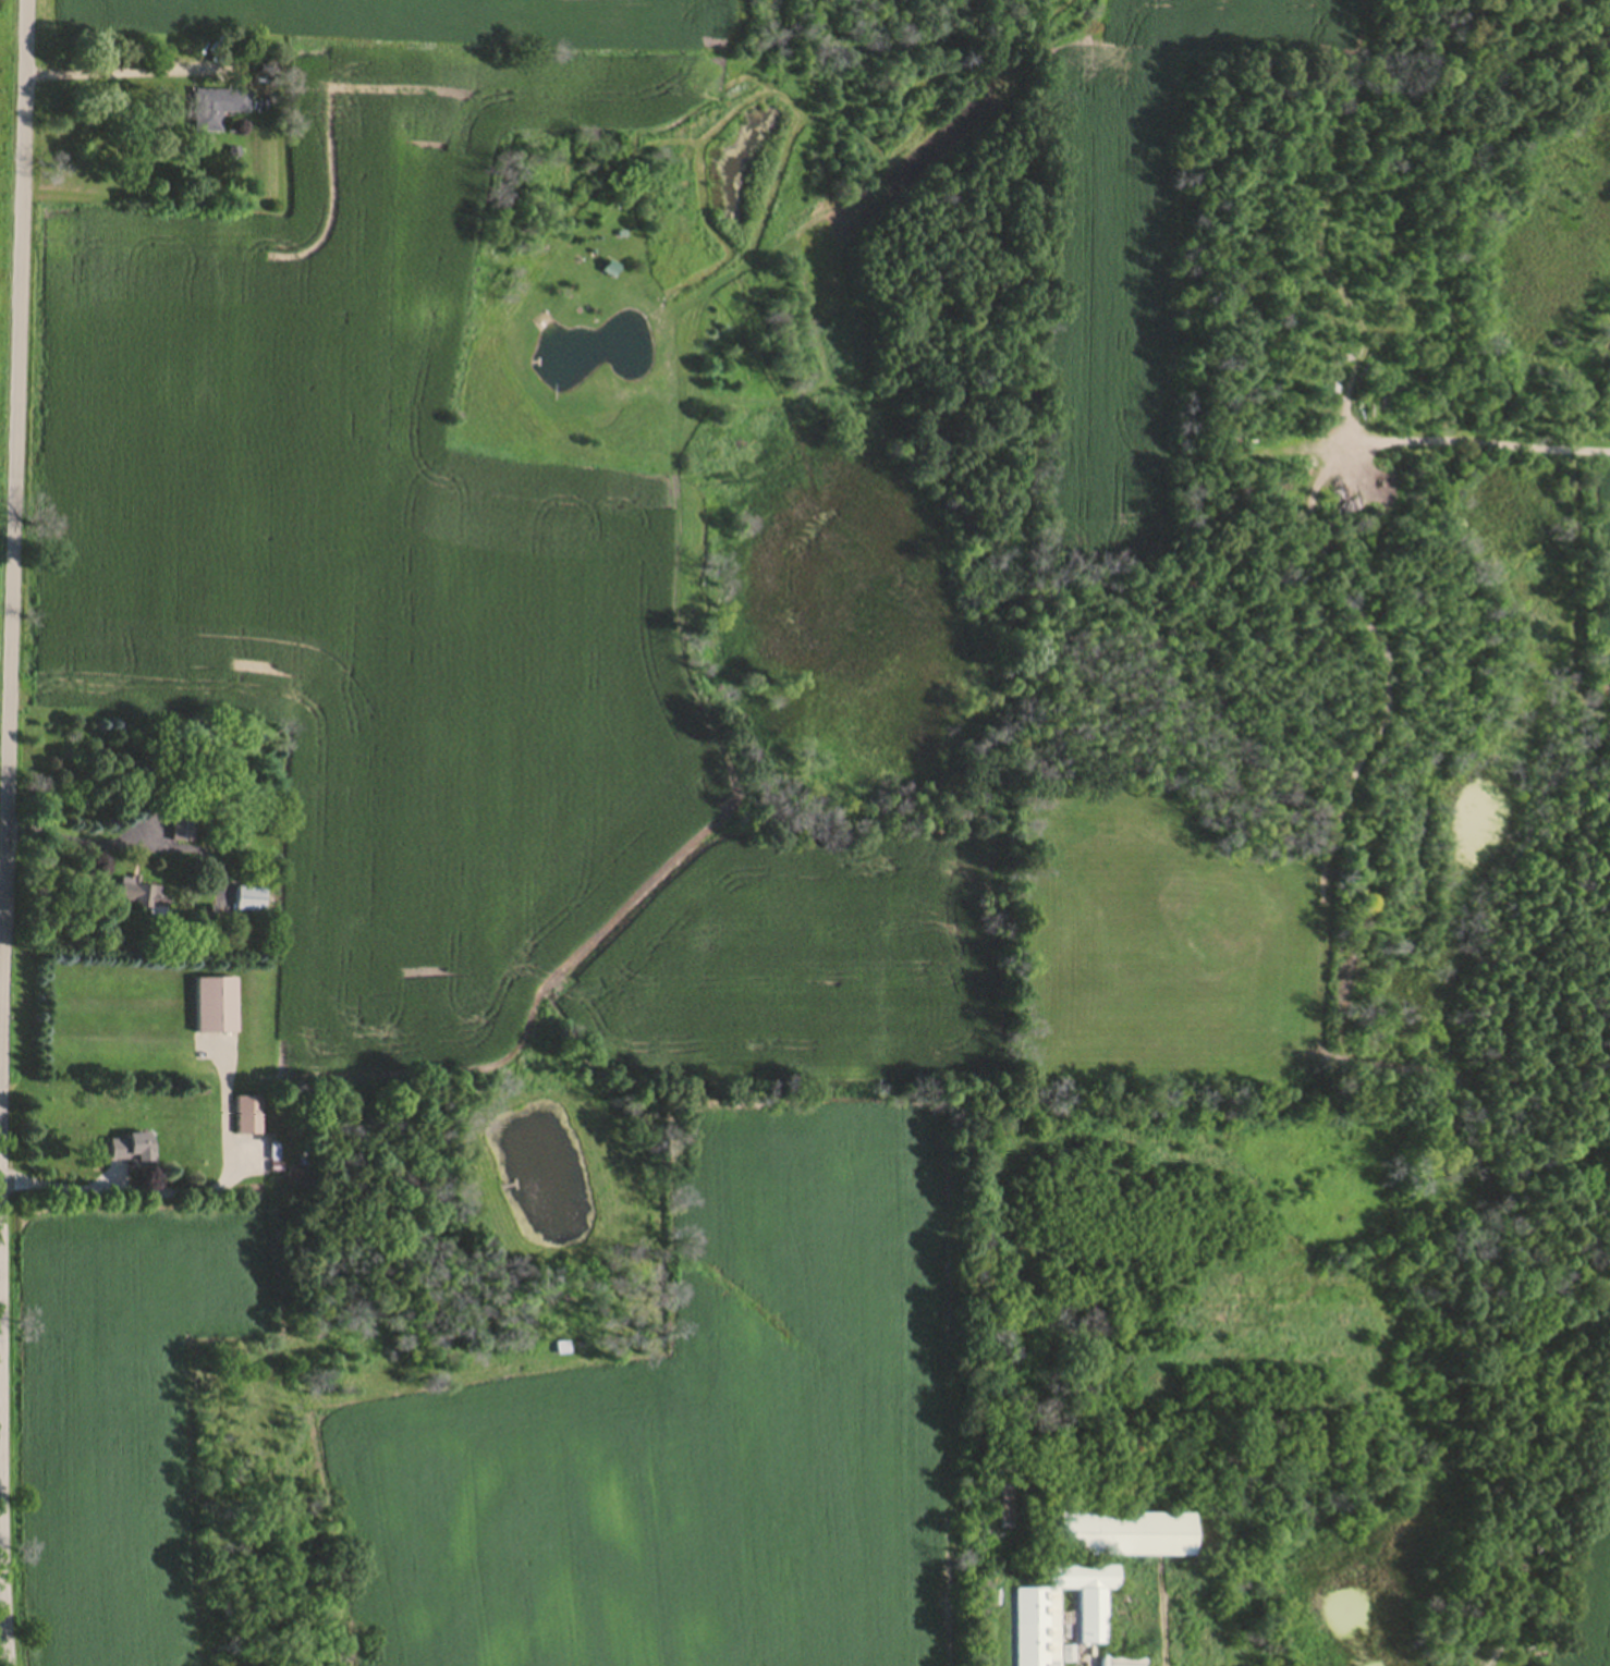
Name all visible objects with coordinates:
road: (122, 73)
building: (217, 111)
building: (611, 272)
road: (1489, 439)
building: (182, 829)
road: (7, 832)
road: (80, 837)
building: (144, 896)
building: (249, 902)
building: (215, 1008)
road: (1, 1099)
building: (248, 1118)
building: (133, 1153)
road: (126, 1193)
building: (1125, 1538)
building: (1038, 1621)

